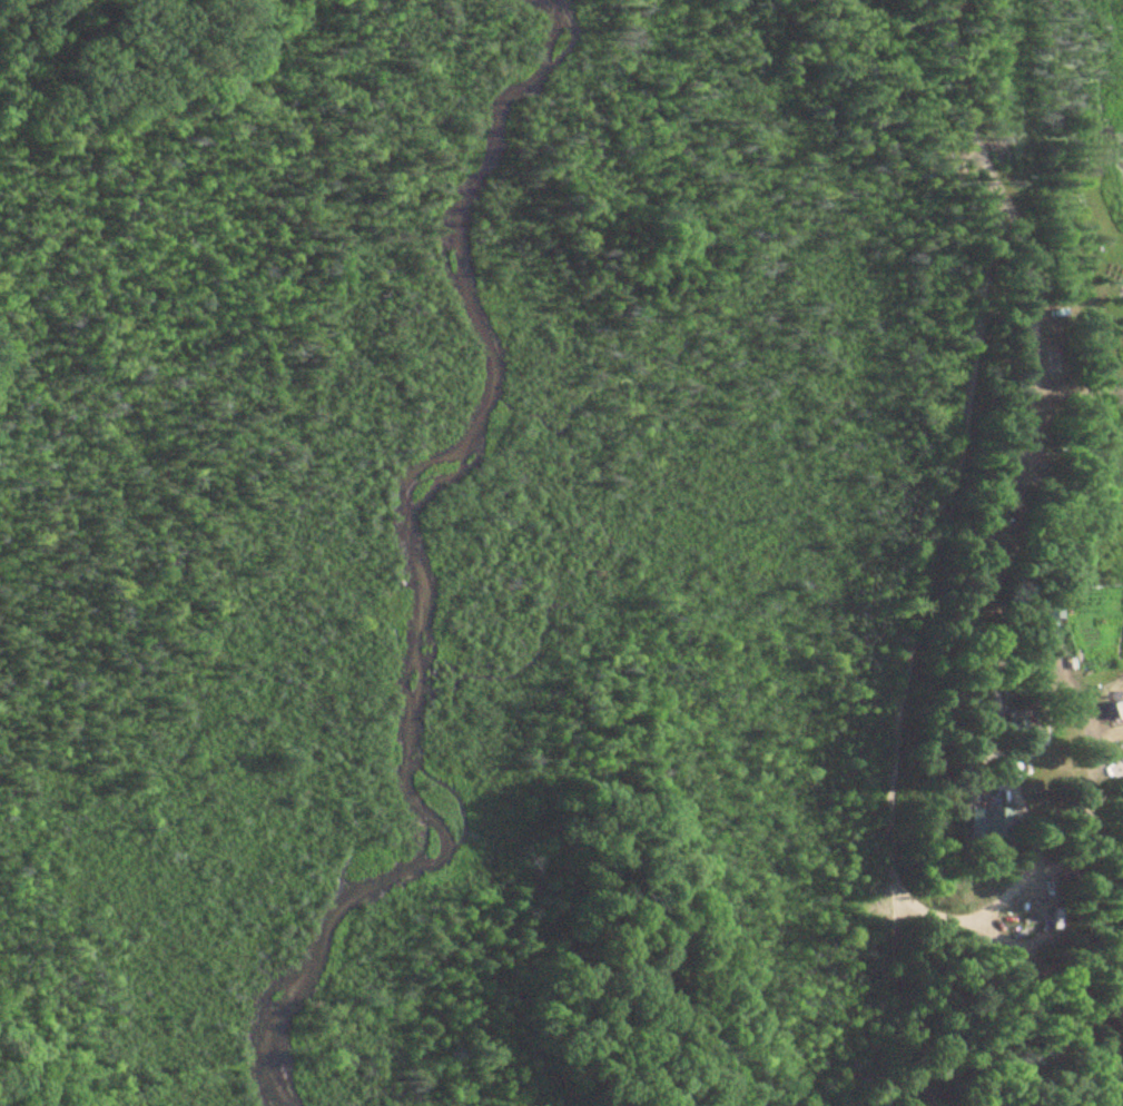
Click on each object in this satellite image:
road: (1013, 464)
road: (929, 590)
road: (1078, 712)
building: (1016, 738)
building: (993, 823)
road: (897, 995)

